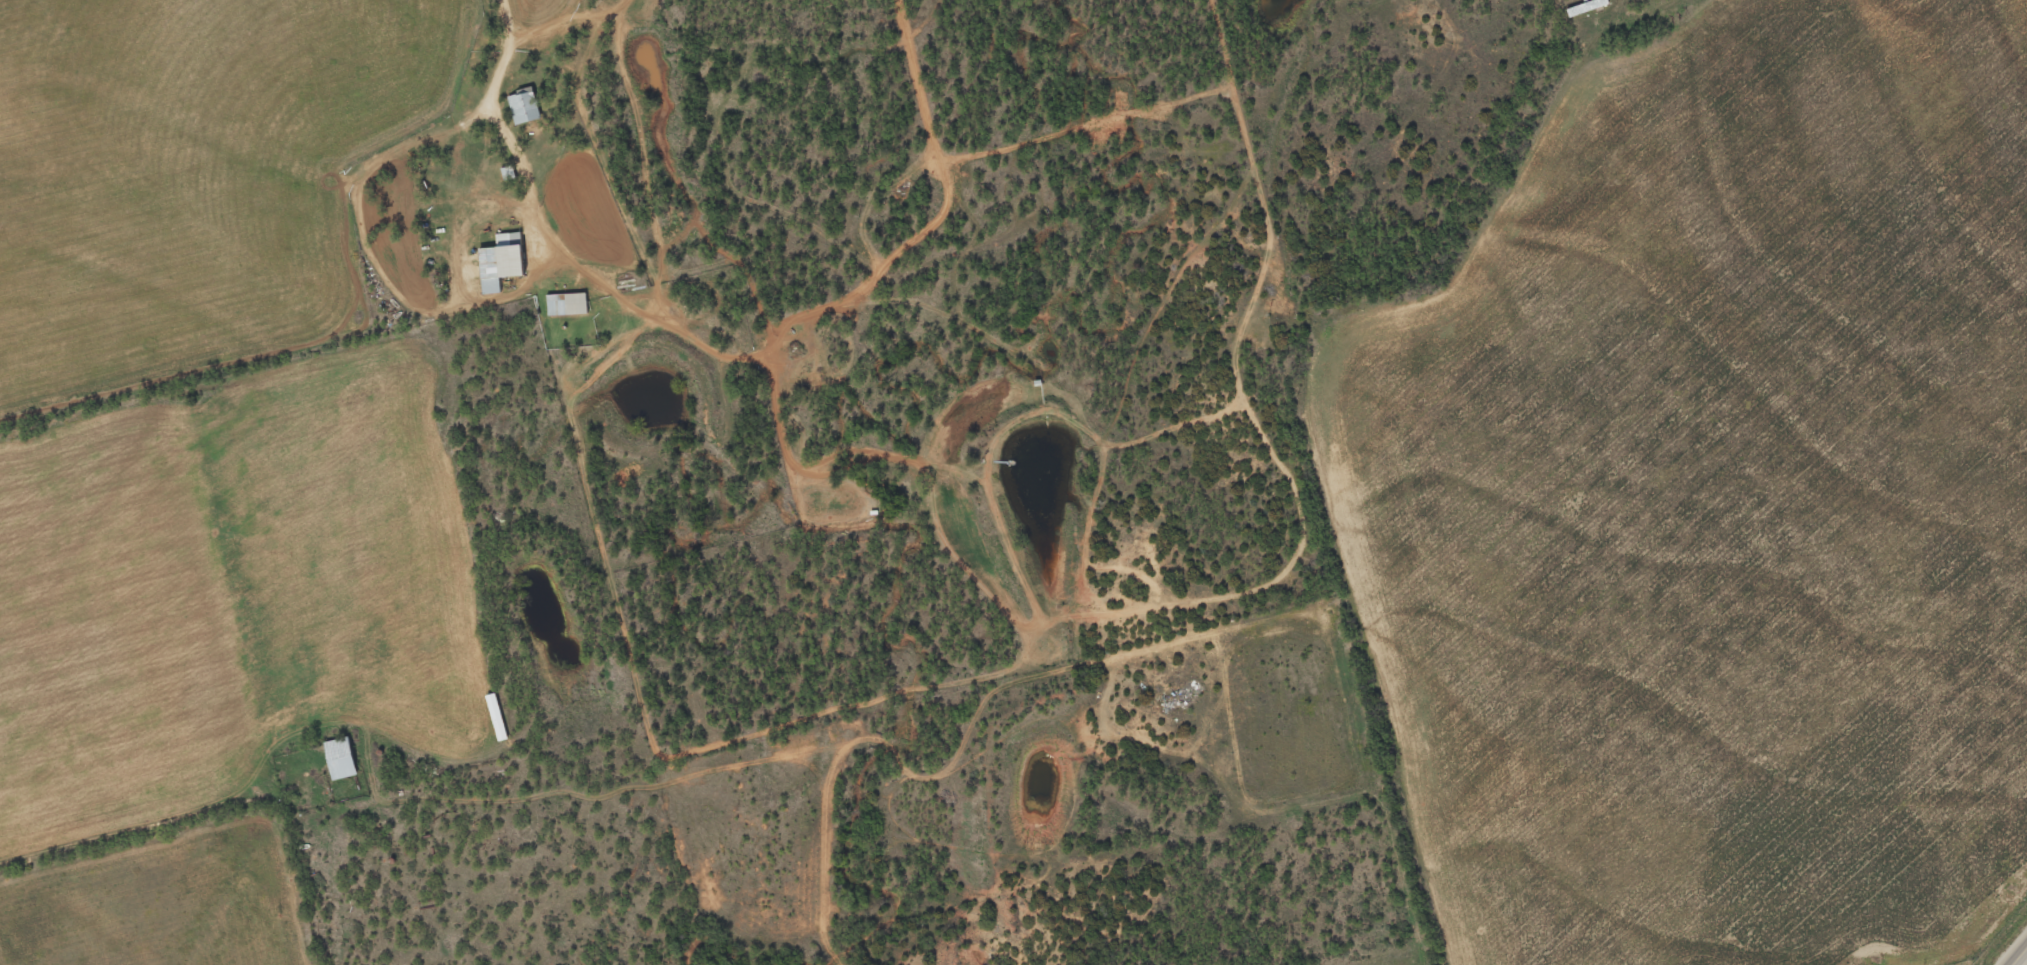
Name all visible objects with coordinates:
road: (506, 53)
building: (523, 107)
building: (501, 261)
building: (567, 303)
building: (340, 757)
road: (130, 826)
road: (2016, 952)

